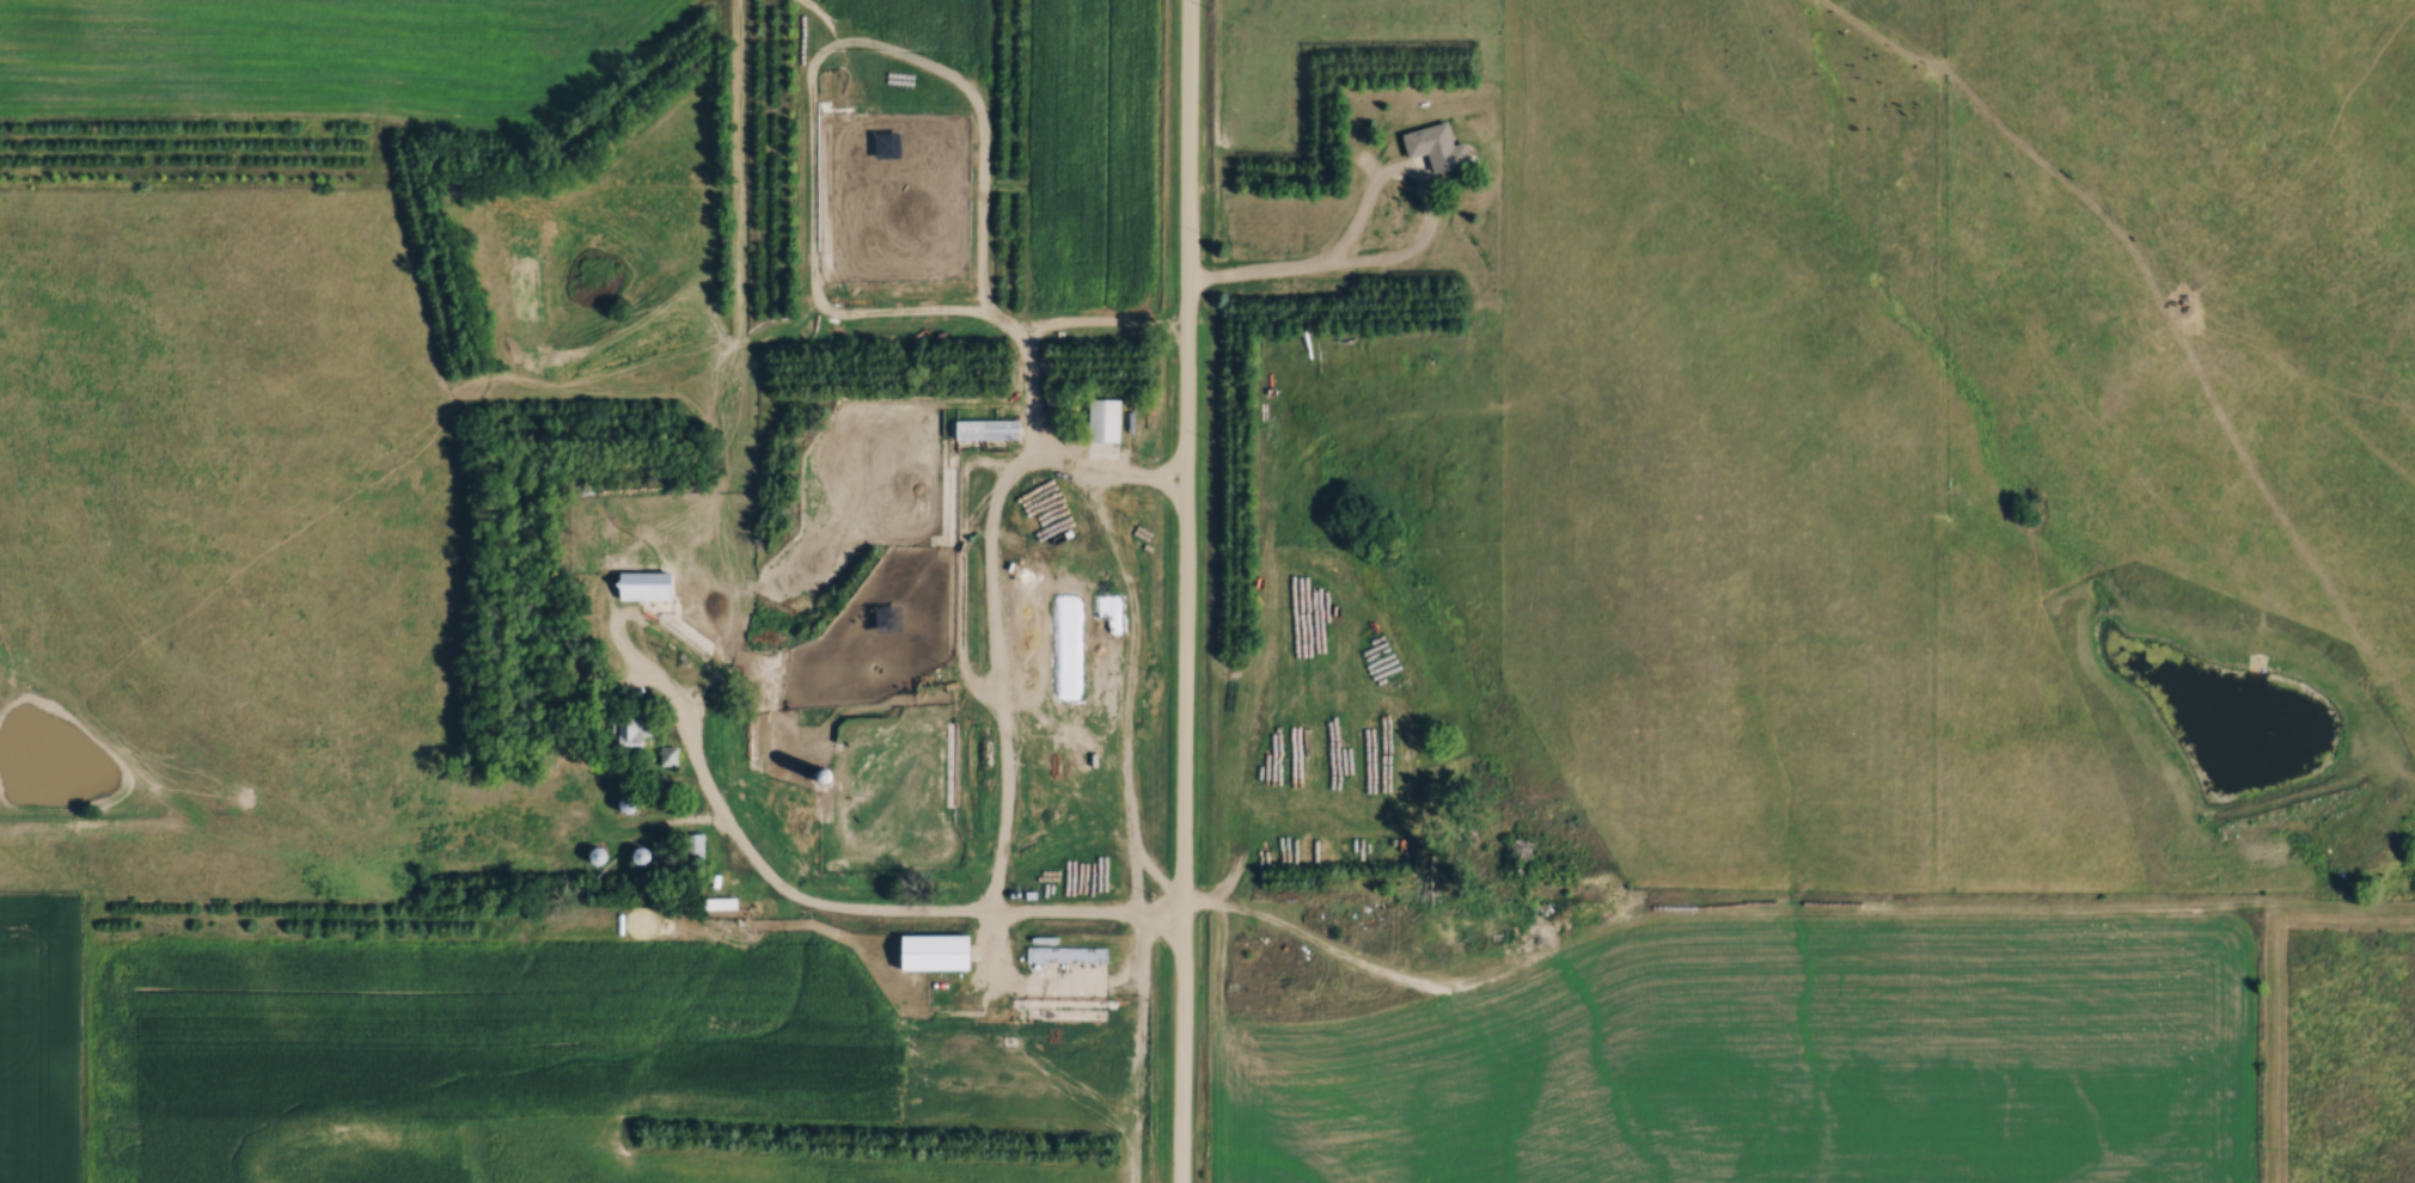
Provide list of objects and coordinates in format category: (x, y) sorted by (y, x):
building: (1436, 147)
road: (1430, 208)
road: (1251, 280)
building: (1107, 419)
building: (986, 429)
building: (642, 587)
road: (1184, 591)
road: (988, 596)
building: (1092, 664)
building: (634, 734)
building: (666, 756)
building: (830, 777)
building: (642, 856)
road: (800, 899)
building: (1417, 930)
building: (936, 952)
building: (1066, 954)

